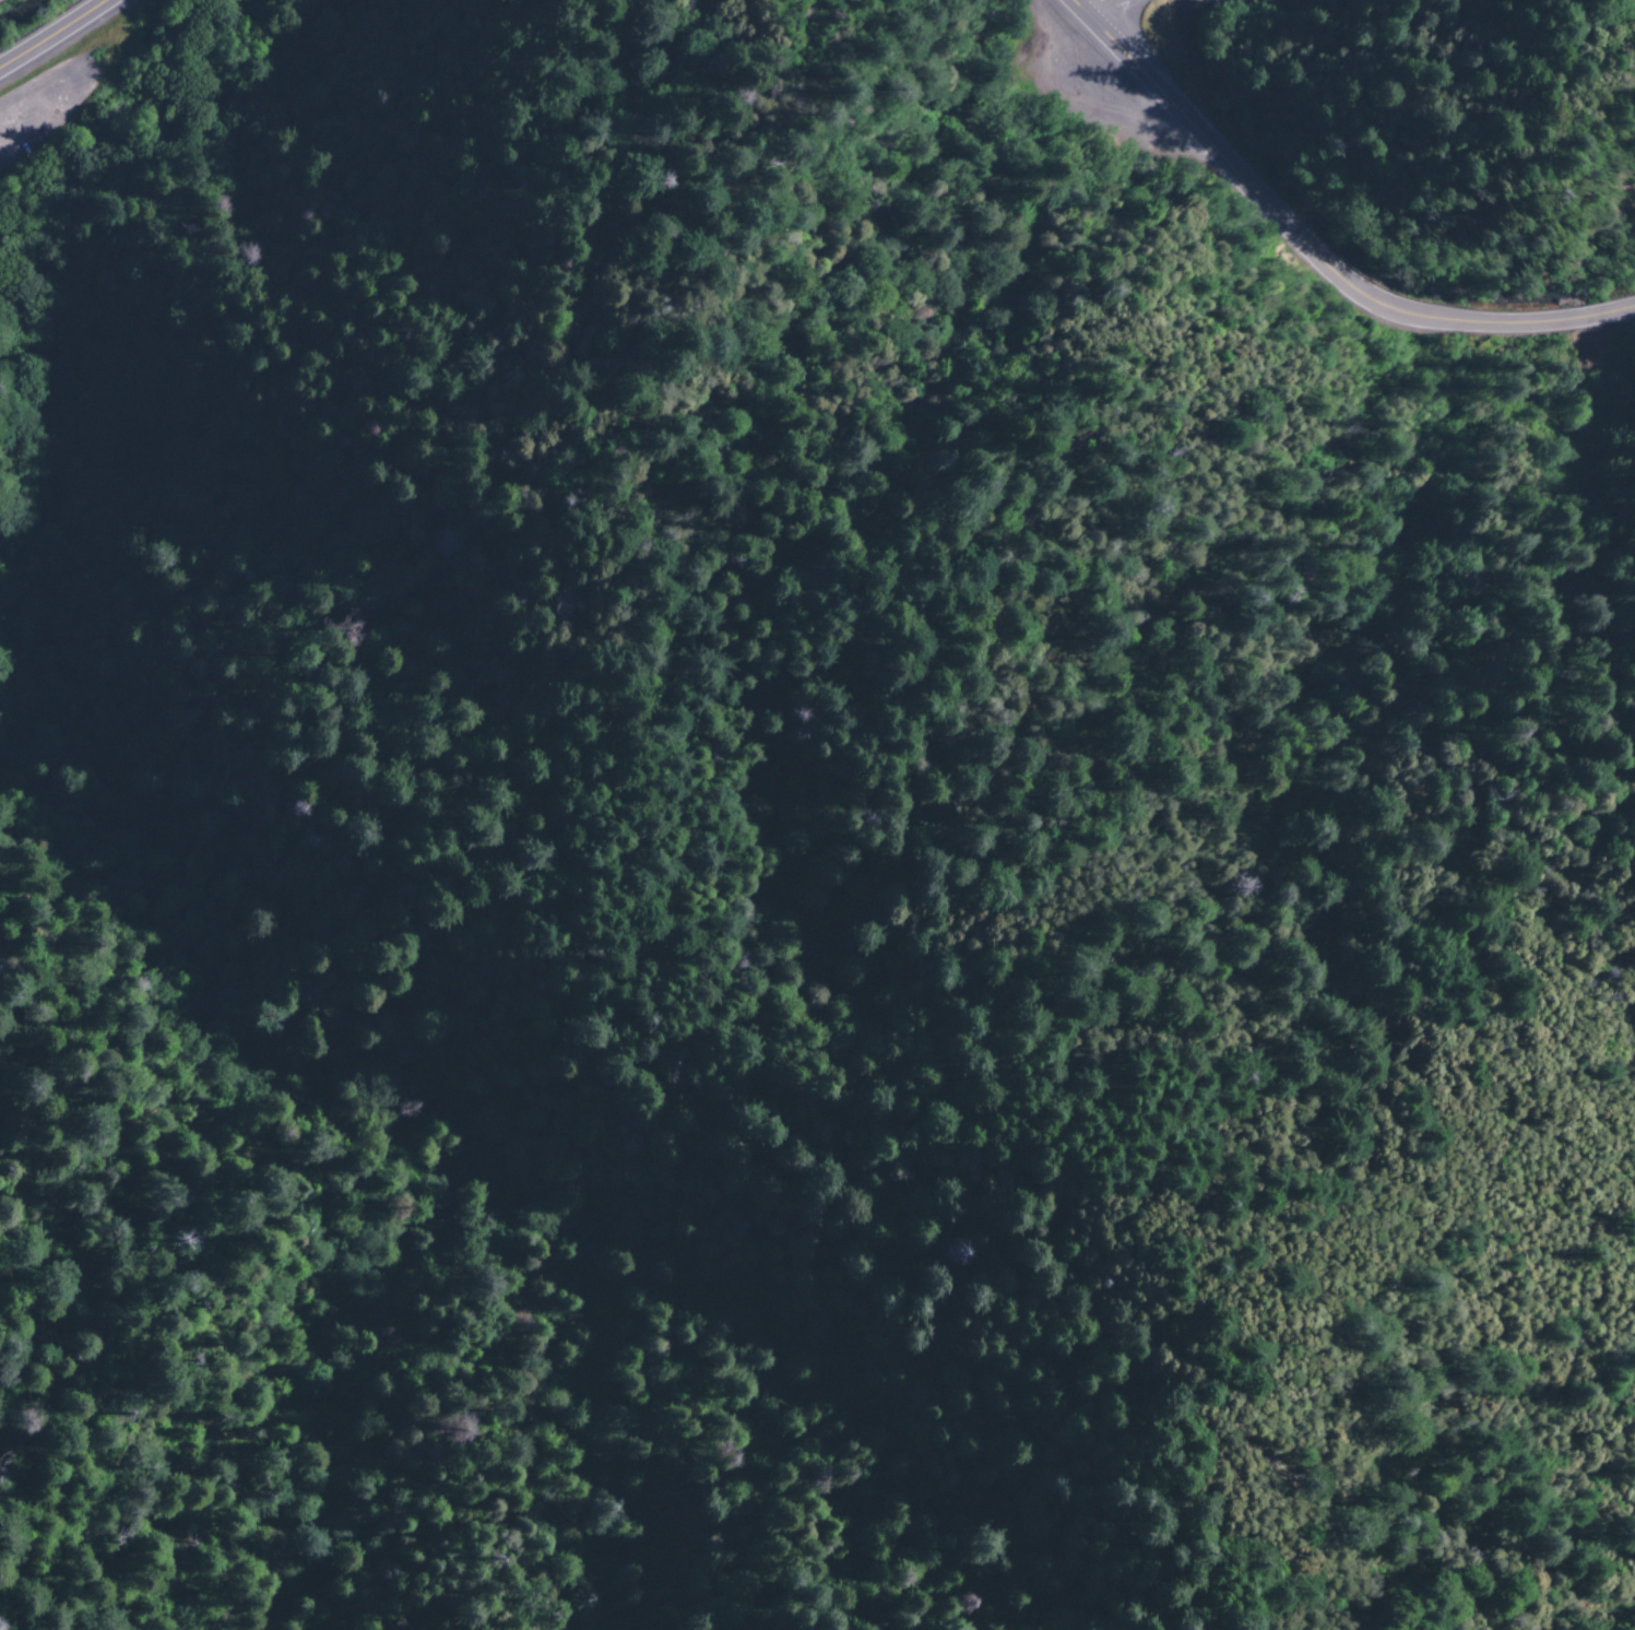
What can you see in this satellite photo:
road: (1289, 5)
road: (1115, 12)
road: (52, 34)
road: (1310, 249)
road: (528, 328)
road: (1045, 1262)
road: (263, 1562)

